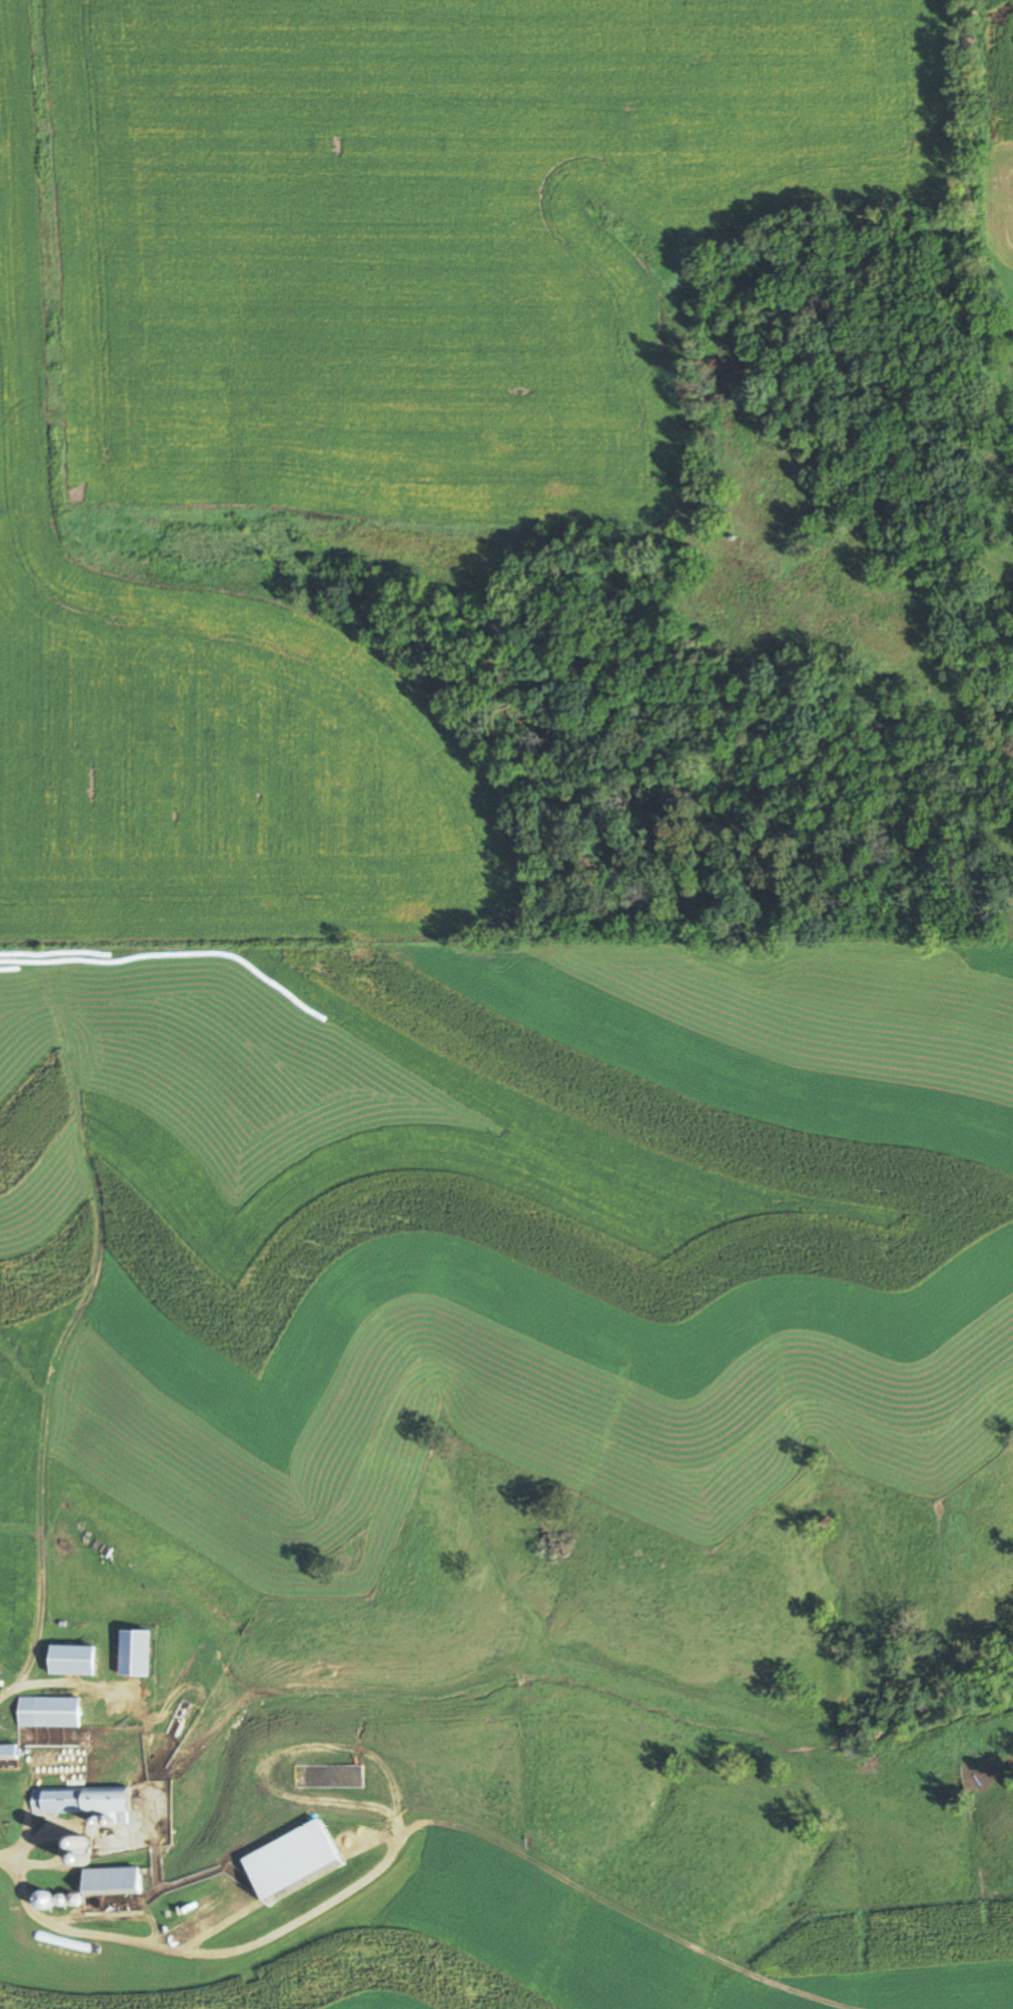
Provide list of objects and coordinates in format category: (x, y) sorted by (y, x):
road: (40, 1609)
building: (73, 1659)
building: (50, 1712)
building: (8, 1752)
building: (84, 1802)
road: (61, 1843)
road: (5, 1854)
building: (111, 1880)
building: (40, 1902)

